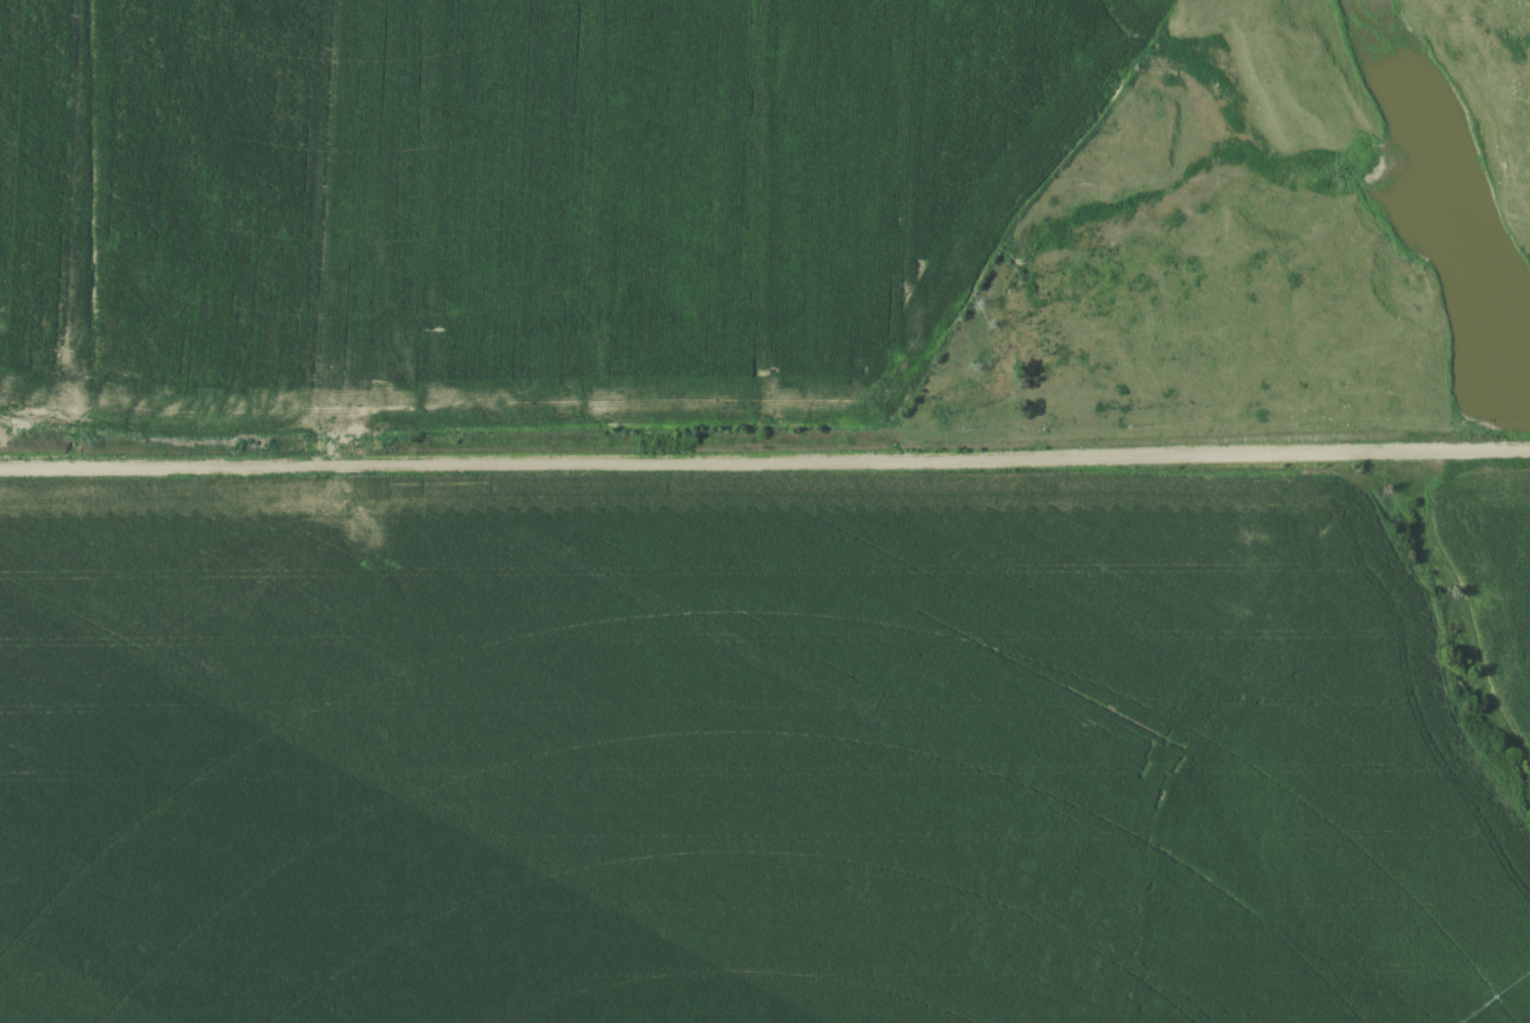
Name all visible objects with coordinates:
road: (765, 465)

